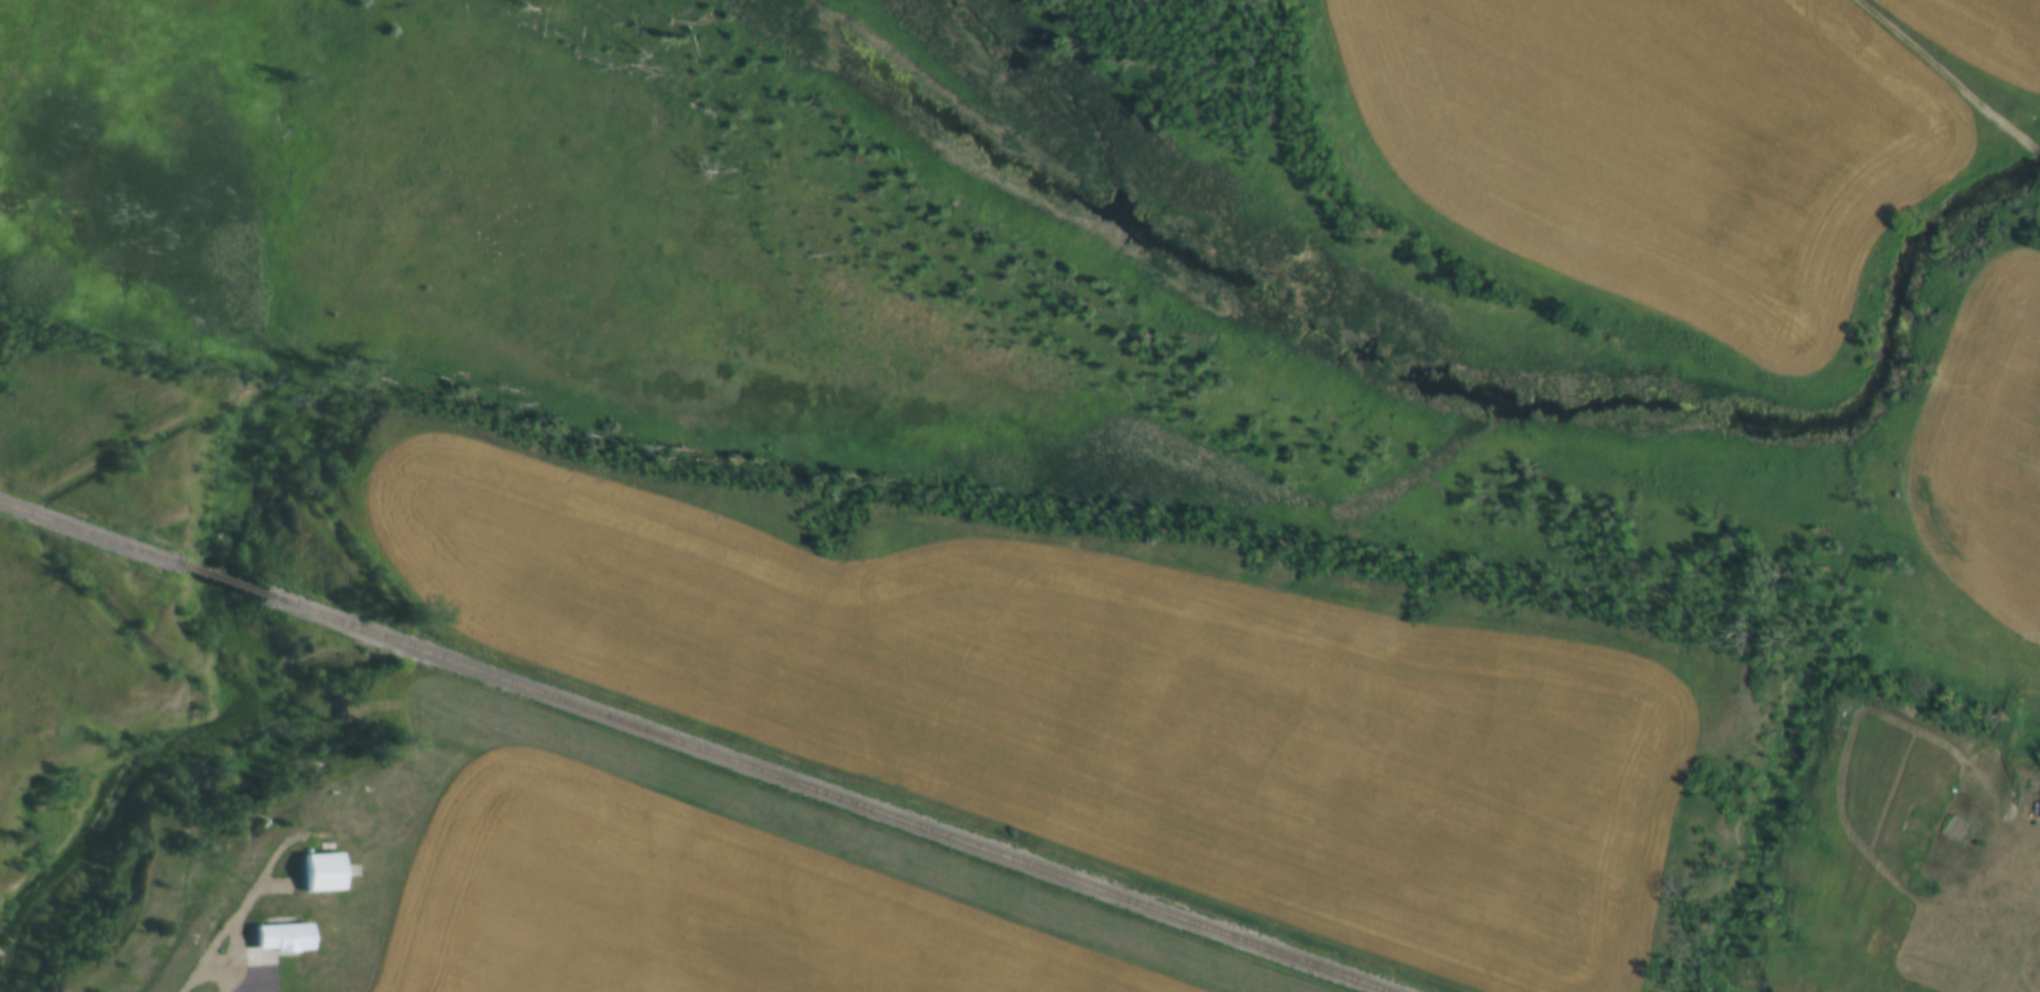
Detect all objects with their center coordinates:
road: (1953, 78)
railway: (91, 533)
railway: (224, 580)
railway: (827, 795)
building: (327, 874)
road: (220, 933)
building: (281, 944)
road: (258, 980)

